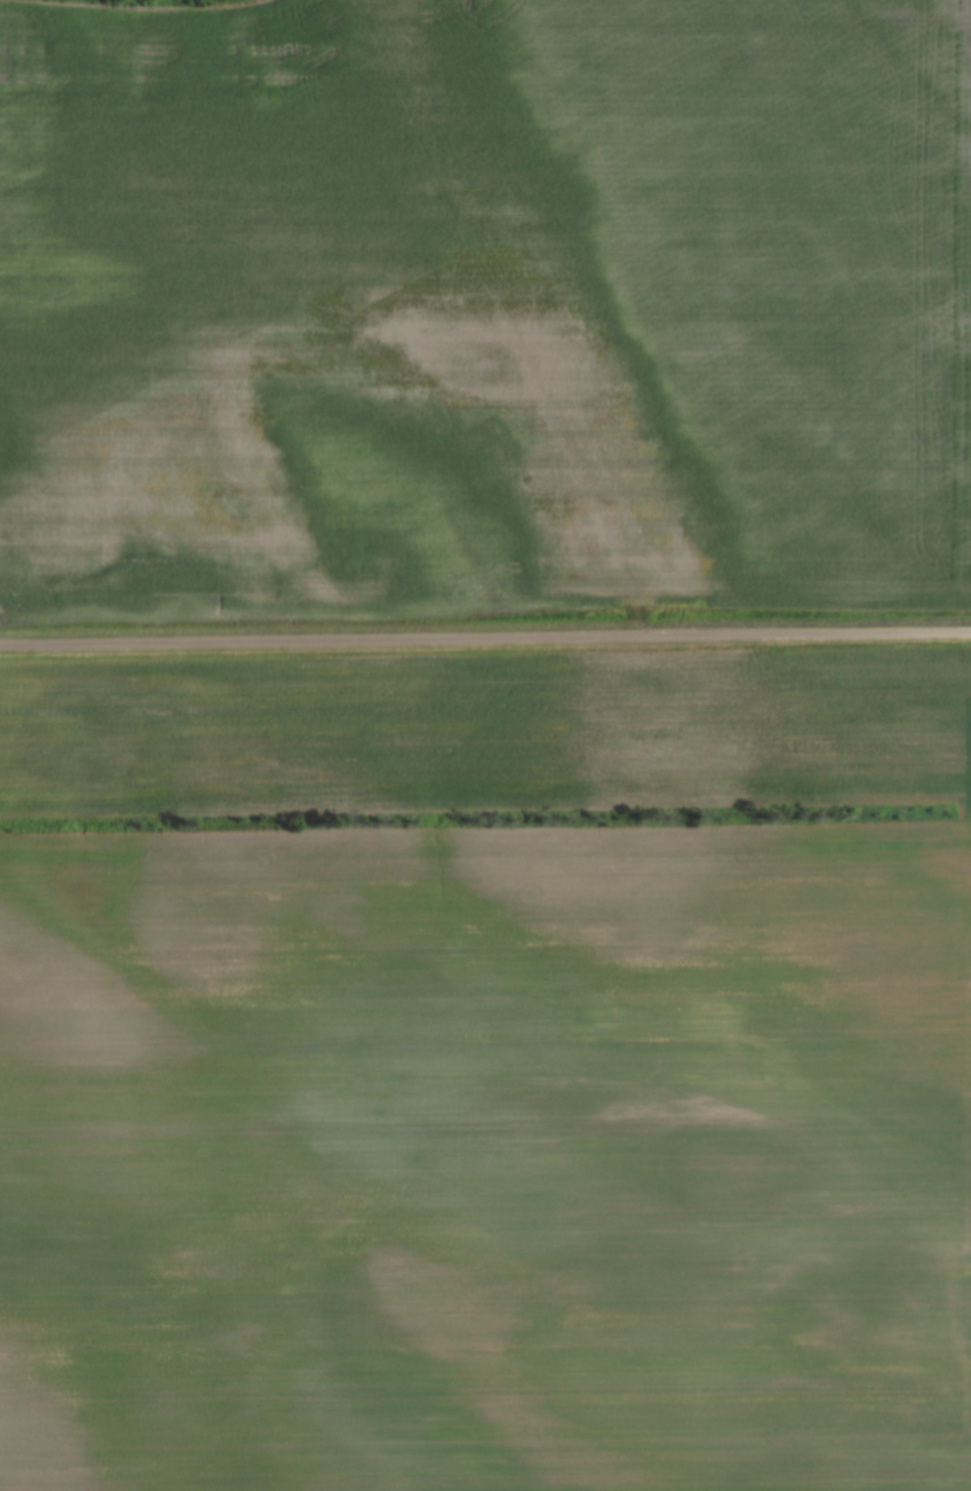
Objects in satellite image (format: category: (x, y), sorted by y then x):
road: (485, 641)

